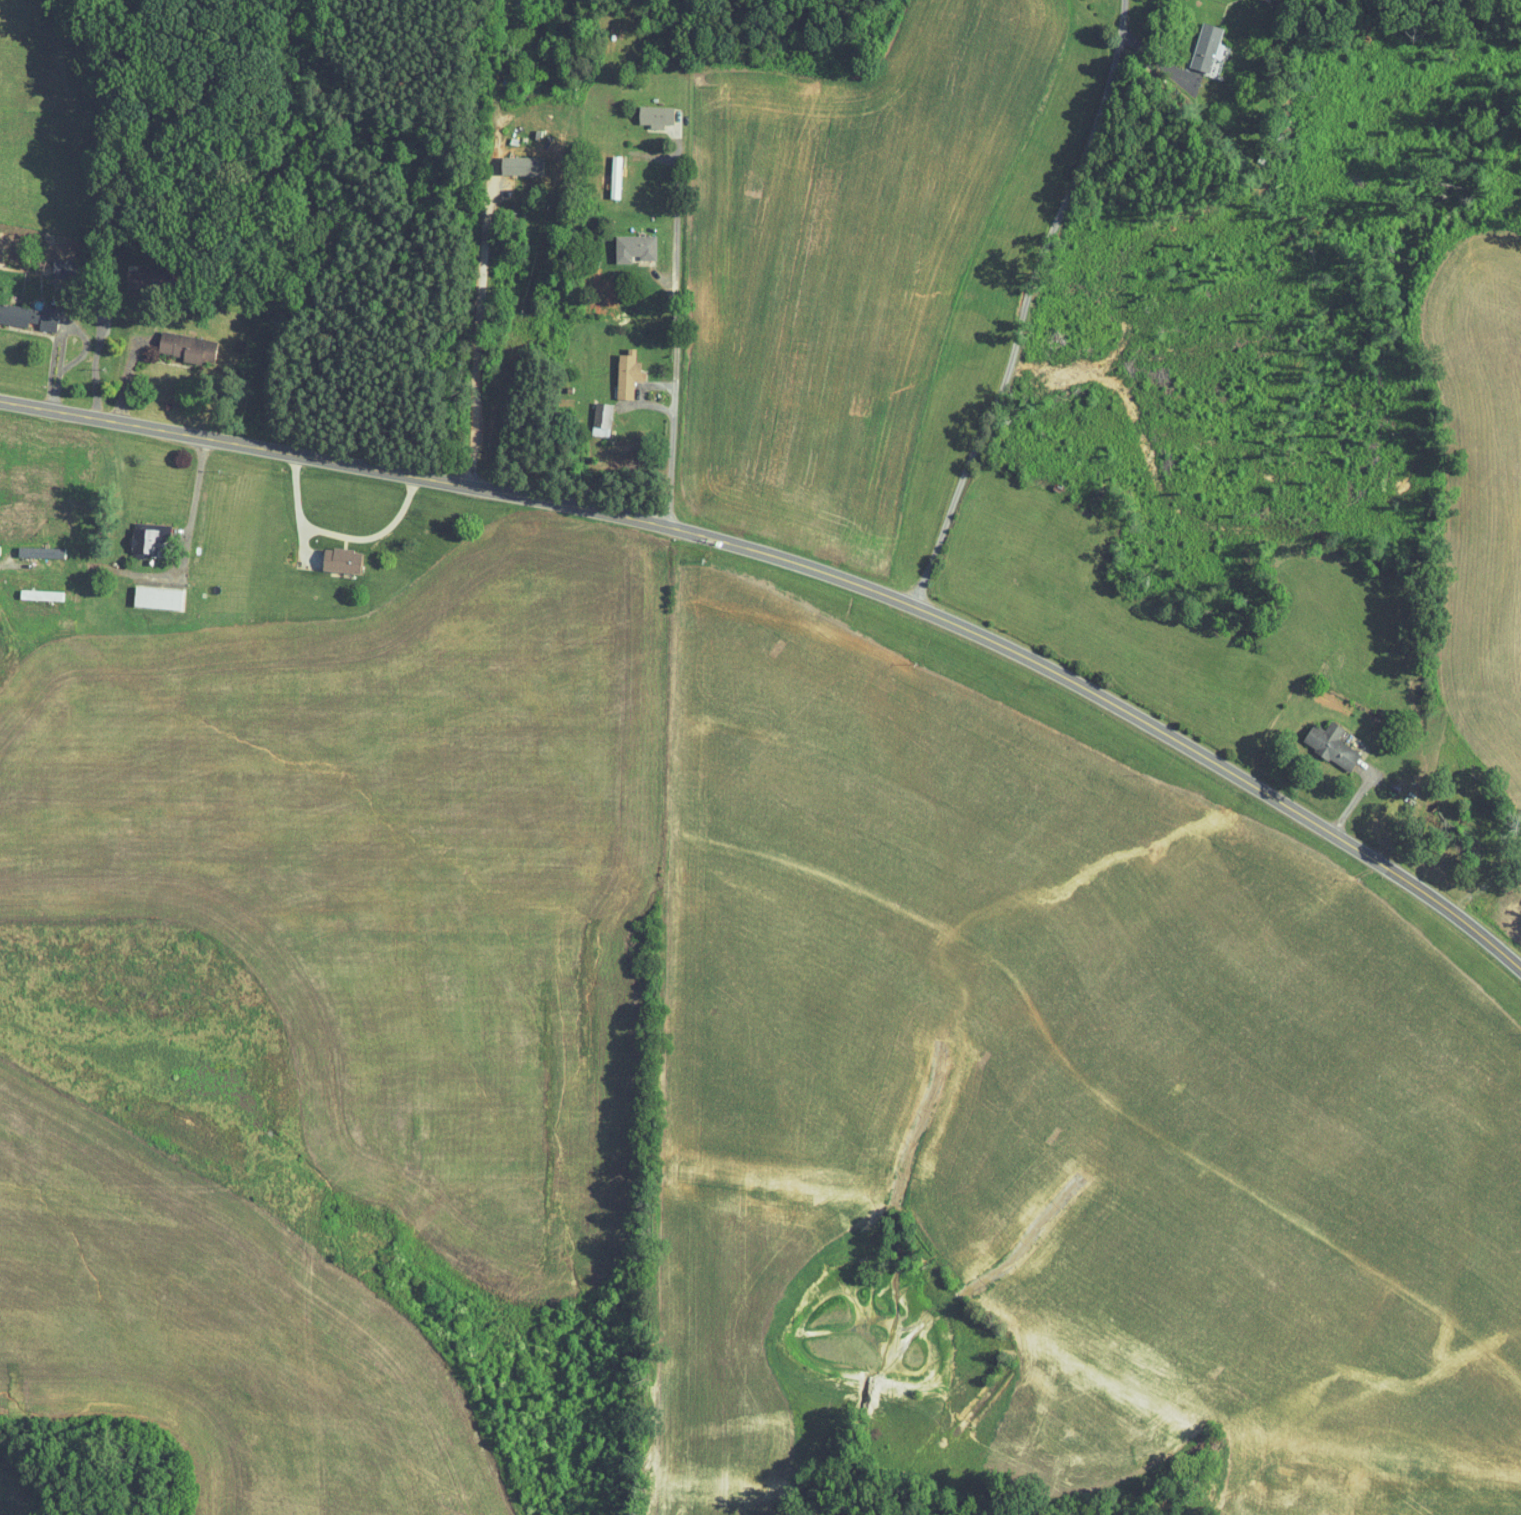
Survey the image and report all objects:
building: (1208, 49)
building: (659, 115)
building: (528, 164)
building: (615, 177)
road: (482, 242)
building: (637, 248)
building: (64, 268)
building: (145, 278)
road: (1024, 303)
building: (31, 316)
road: (670, 333)
building: (191, 347)
building: (629, 374)
building: (602, 415)
road: (191, 513)
road: (339, 535)
road: (704, 536)
building: (149, 542)
building: (0, 547)
building: (43, 552)
building: (345, 560)
road: (18, 565)
building: (42, 595)
building: (159, 598)
building: (1333, 743)
road: (1438, 902)

